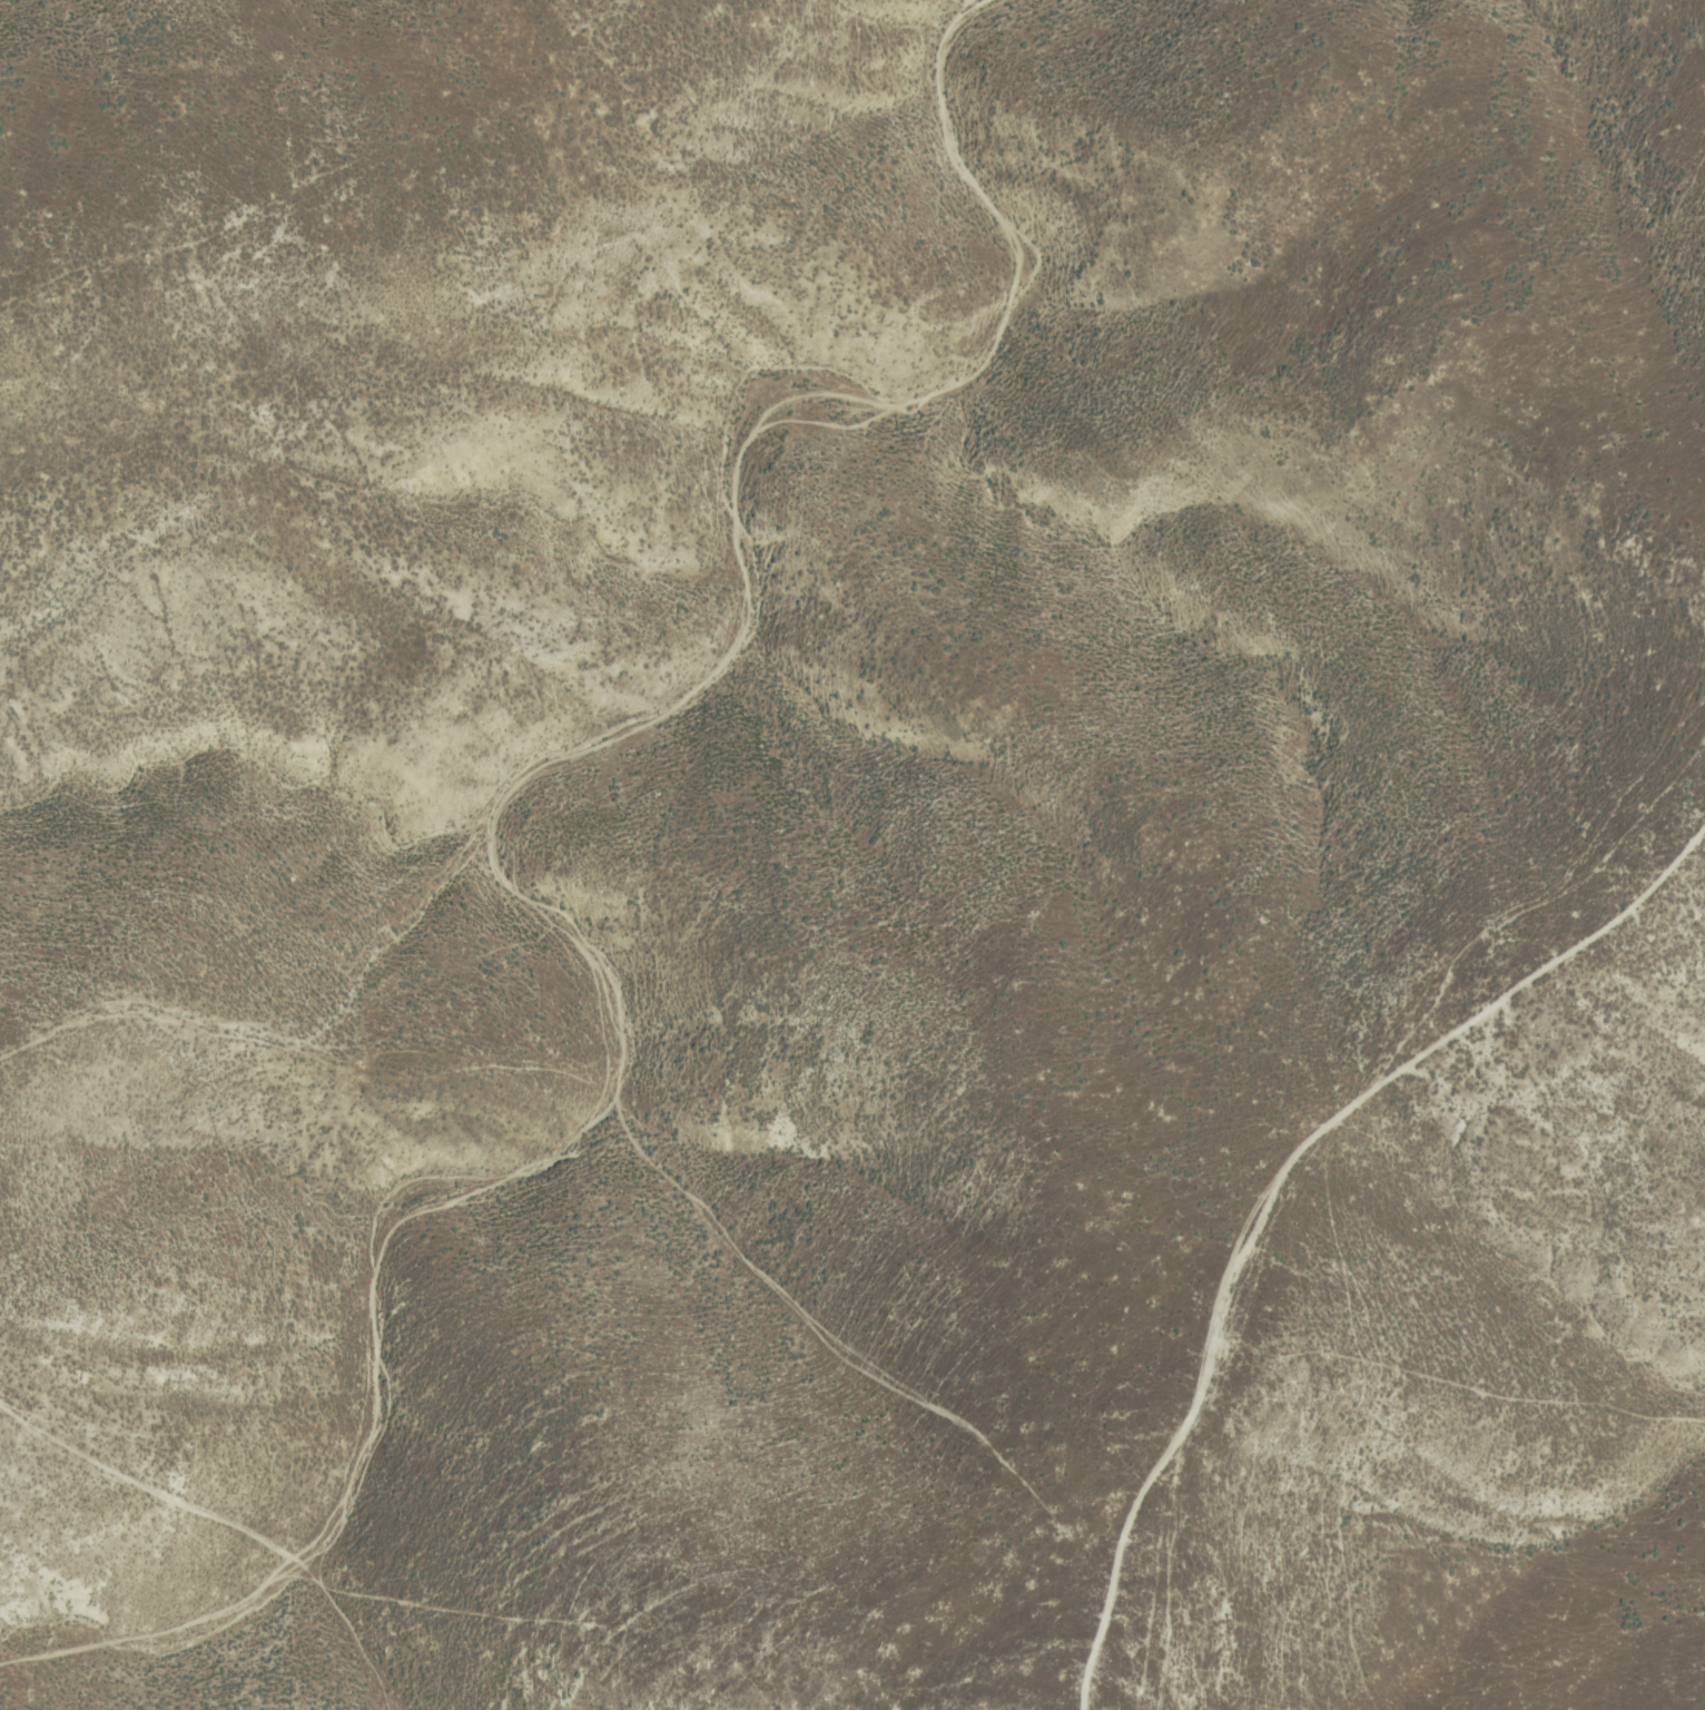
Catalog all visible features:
road: (1278, 1191)

